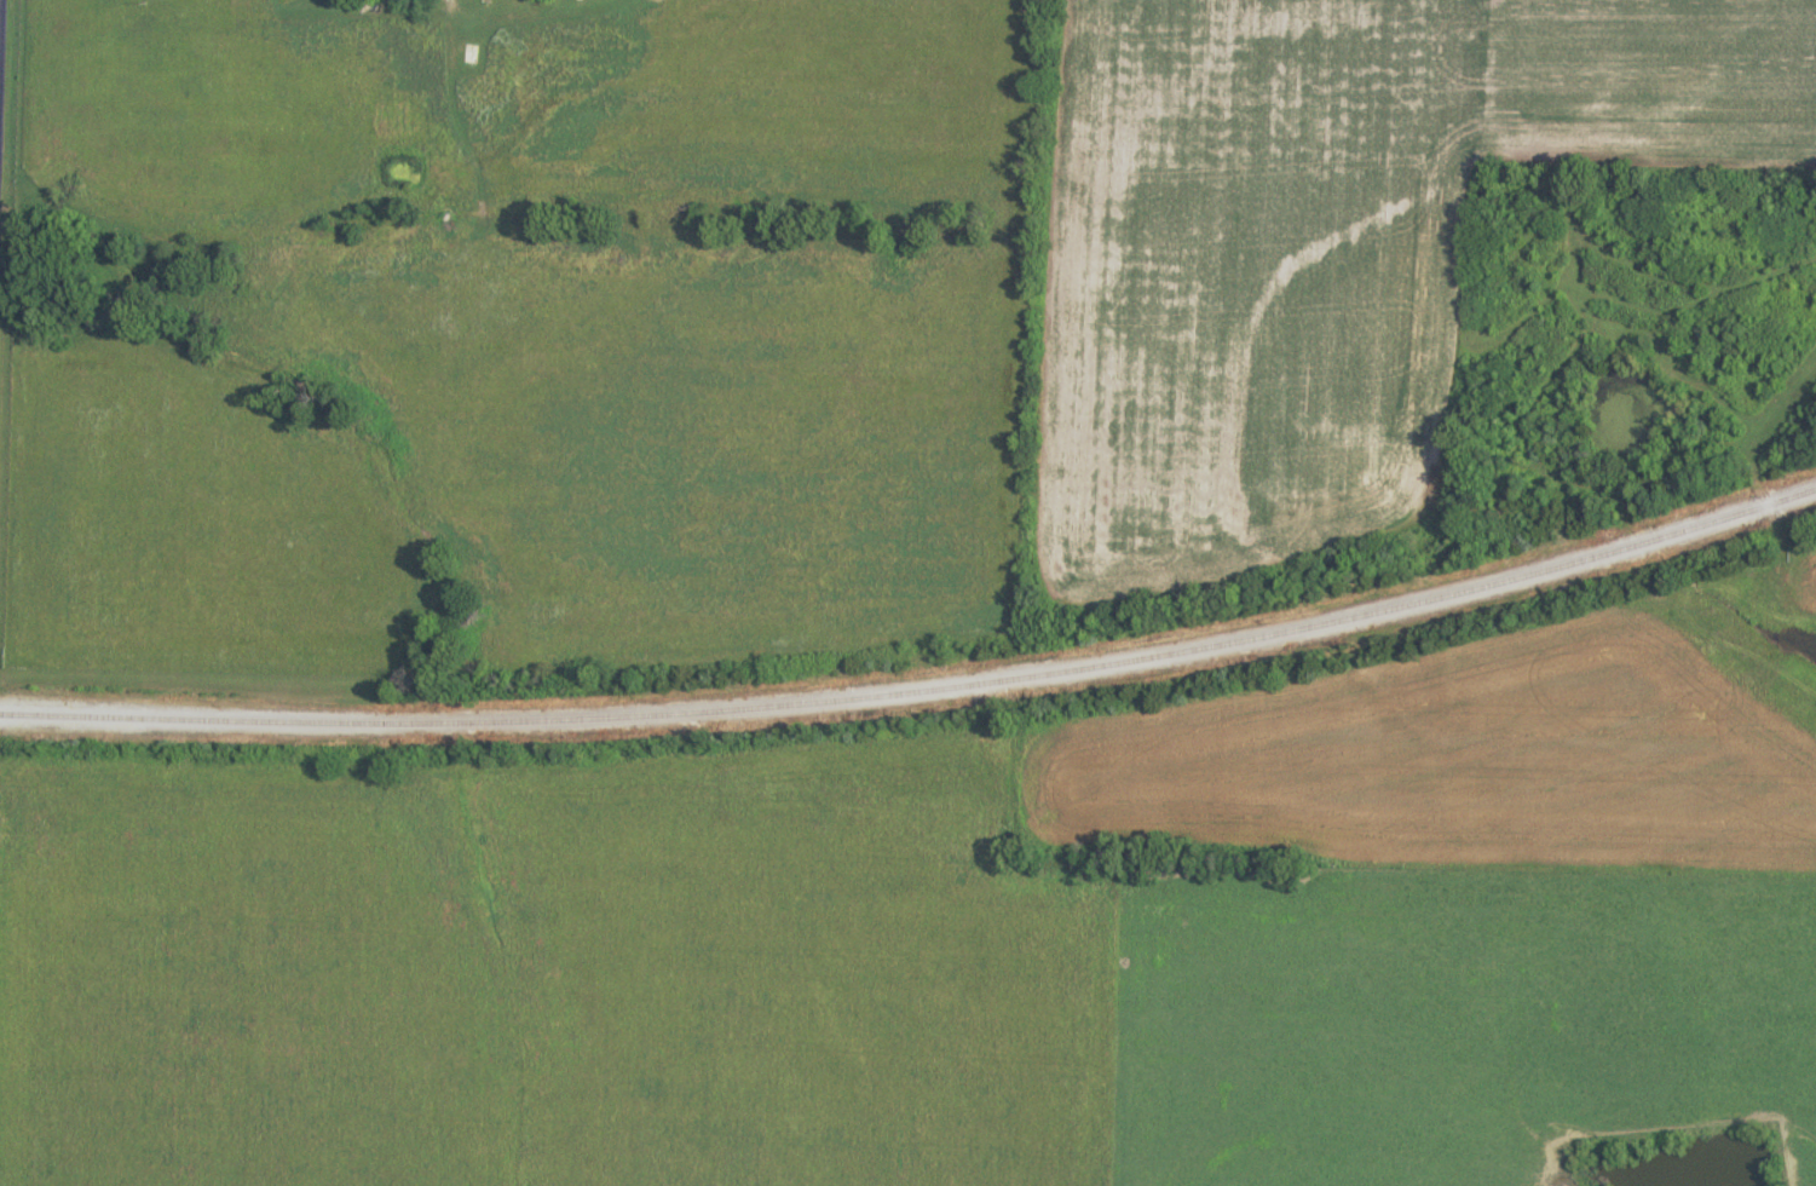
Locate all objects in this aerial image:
railway: (917, 670)

